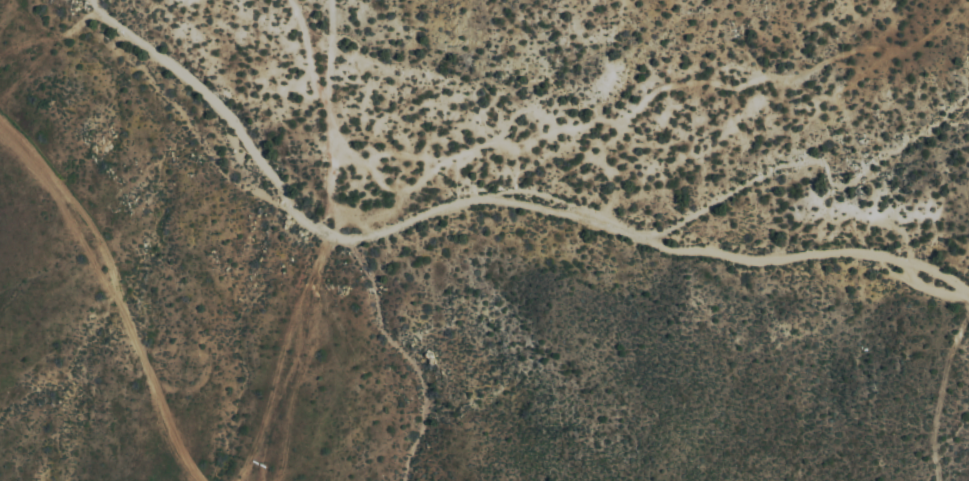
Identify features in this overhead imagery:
road: (480, 203)
road: (120, 295)

